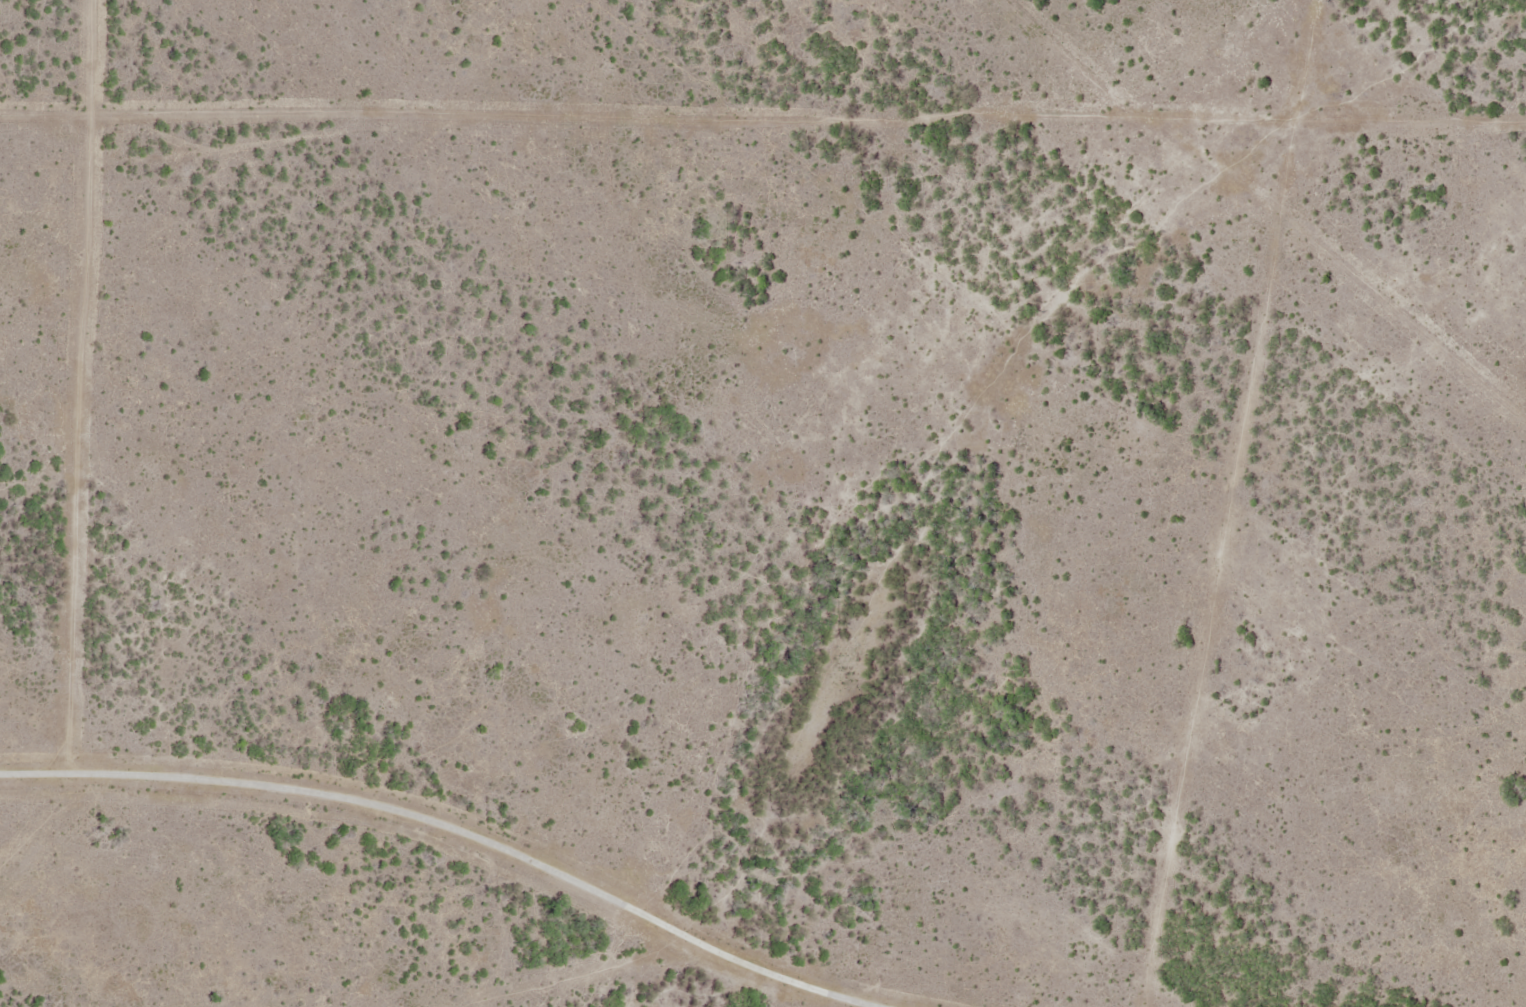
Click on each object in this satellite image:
road: (430, 837)

